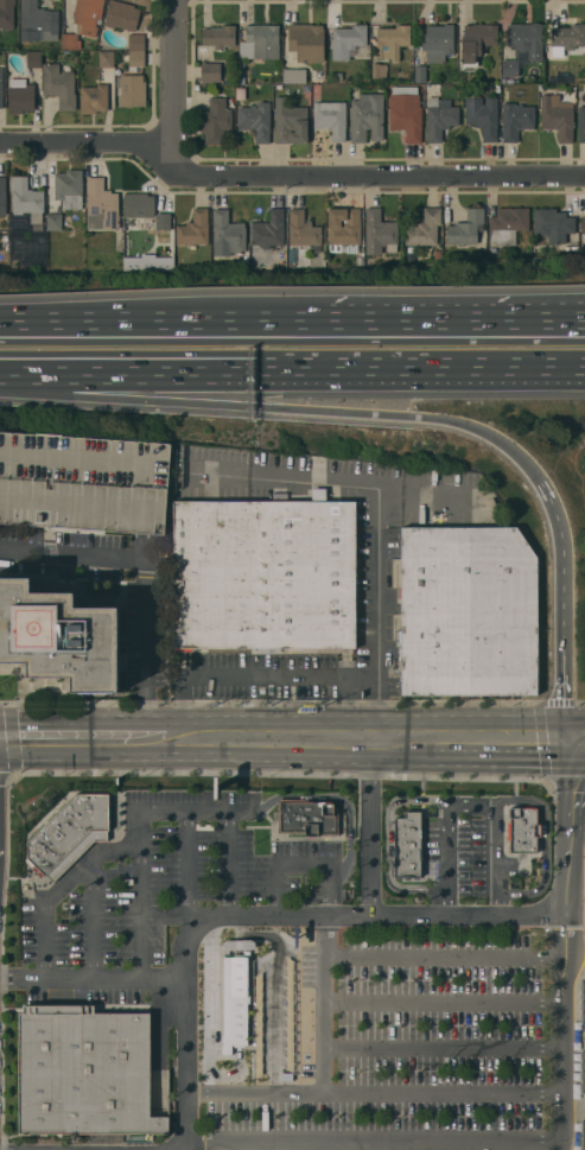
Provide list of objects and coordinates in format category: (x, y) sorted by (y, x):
building: (6, 13)
building: (87, 15)
building: (121, 15)
building: (37, 23)
building: (218, 36)
building: (568, 36)
building: (69, 42)
building: (135, 42)
building: (260, 42)
building: (349, 42)
building: (392, 42)
building: (437, 42)
building: (476, 42)
building: (305, 43)
building: (522, 46)
building: (33, 59)
building: (106, 59)
building: (134, 59)
building: (240, 70)
building: (379, 70)
building: (210, 72)
building: (420, 74)
building: (294, 76)
building: (338, 76)
building: (561, 76)
building: (240, 80)
building: (460, 80)
building: (59, 85)
building: (1, 88)
road: (176, 88)
building: (380, 88)
building: (132, 90)
building: (240, 94)
building: (20, 96)
building: (94, 99)
building: (482, 114)
building: (406, 115)
building: (367, 116)
building: (557, 116)
building: (330, 117)
building: (439, 117)
building: (215, 120)
building: (255, 120)
building: (516, 120)
building: (290, 121)
building: (581, 122)
road: (287, 176)
building: (69, 189)
building: (2, 196)
building: (26, 198)
building: (101, 204)
building: (147, 214)
building: (55, 222)
building: (507, 224)
building: (553, 224)
building: (36, 227)
building: (343, 228)
building: (424, 228)
building: (466, 228)
building: (583, 228)
building: (193, 229)
building: (269, 229)
building: (303, 230)
building: (379, 231)
building: (227, 234)
building: (27, 248)
building: (291, 254)
building: (437, 255)
building: (254, 261)
road: (401, 322)
road: (109, 323)
road: (126, 369)
road: (418, 369)
road: (128, 399)
road: (409, 417)
building: (82, 484)
road: (331, 485)
building: (261, 574)
road: (146, 580)
road: (562, 610)
building: (470, 611)
road: (379, 616)
building: (59, 636)
road: (246, 676)
road: (539, 738)
road: (82, 744)
road: (295, 744)
road: (14, 745)
road: (497, 745)
traffic signals: (568, 745)
road: (577, 745)
road: (571, 795)
road: (286, 796)
building: (313, 822)
road: (578, 825)
building: (69, 830)
road: (370, 830)
building: (527, 836)
road: (449, 838)
road: (547, 846)
building: (411, 851)
road: (498, 857)
road: (229, 863)
road: (305, 863)
road: (189, 869)
road: (59, 888)
road: (141, 894)
road: (292, 914)
road: (94, 919)
road: (243, 935)
road: (445, 957)
road: (91, 979)
building: (235, 1002)
road: (441, 1002)
road: (323, 1003)
road: (274, 1012)
road: (560, 1023)
road: (441, 1049)
building: (89, 1073)
road: (374, 1093)
road: (374, 1142)

